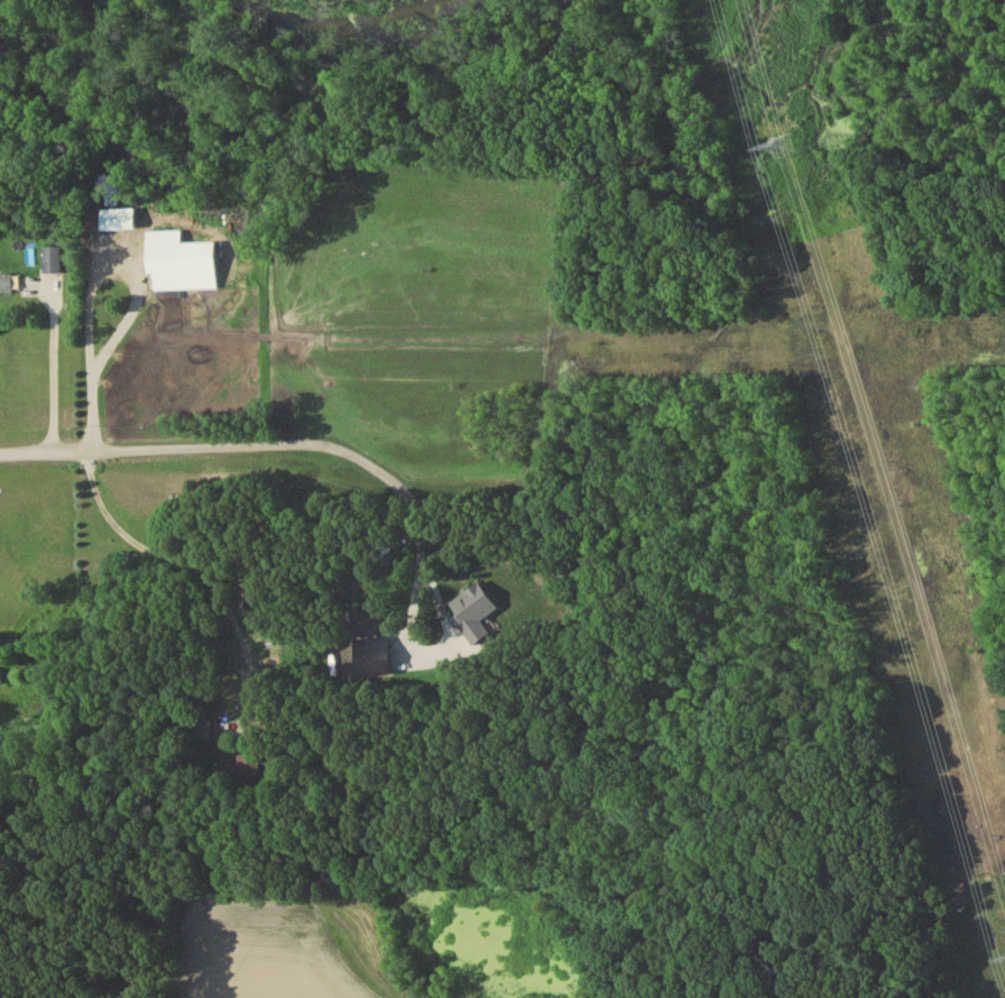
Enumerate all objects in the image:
power tower: (784, 150)
building: (53, 263)
road: (89, 270)
building: (6, 287)
road: (53, 374)
road: (130, 449)
road: (422, 550)
road: (194, 551)
road: (352, 592)
building: (0, 679)

